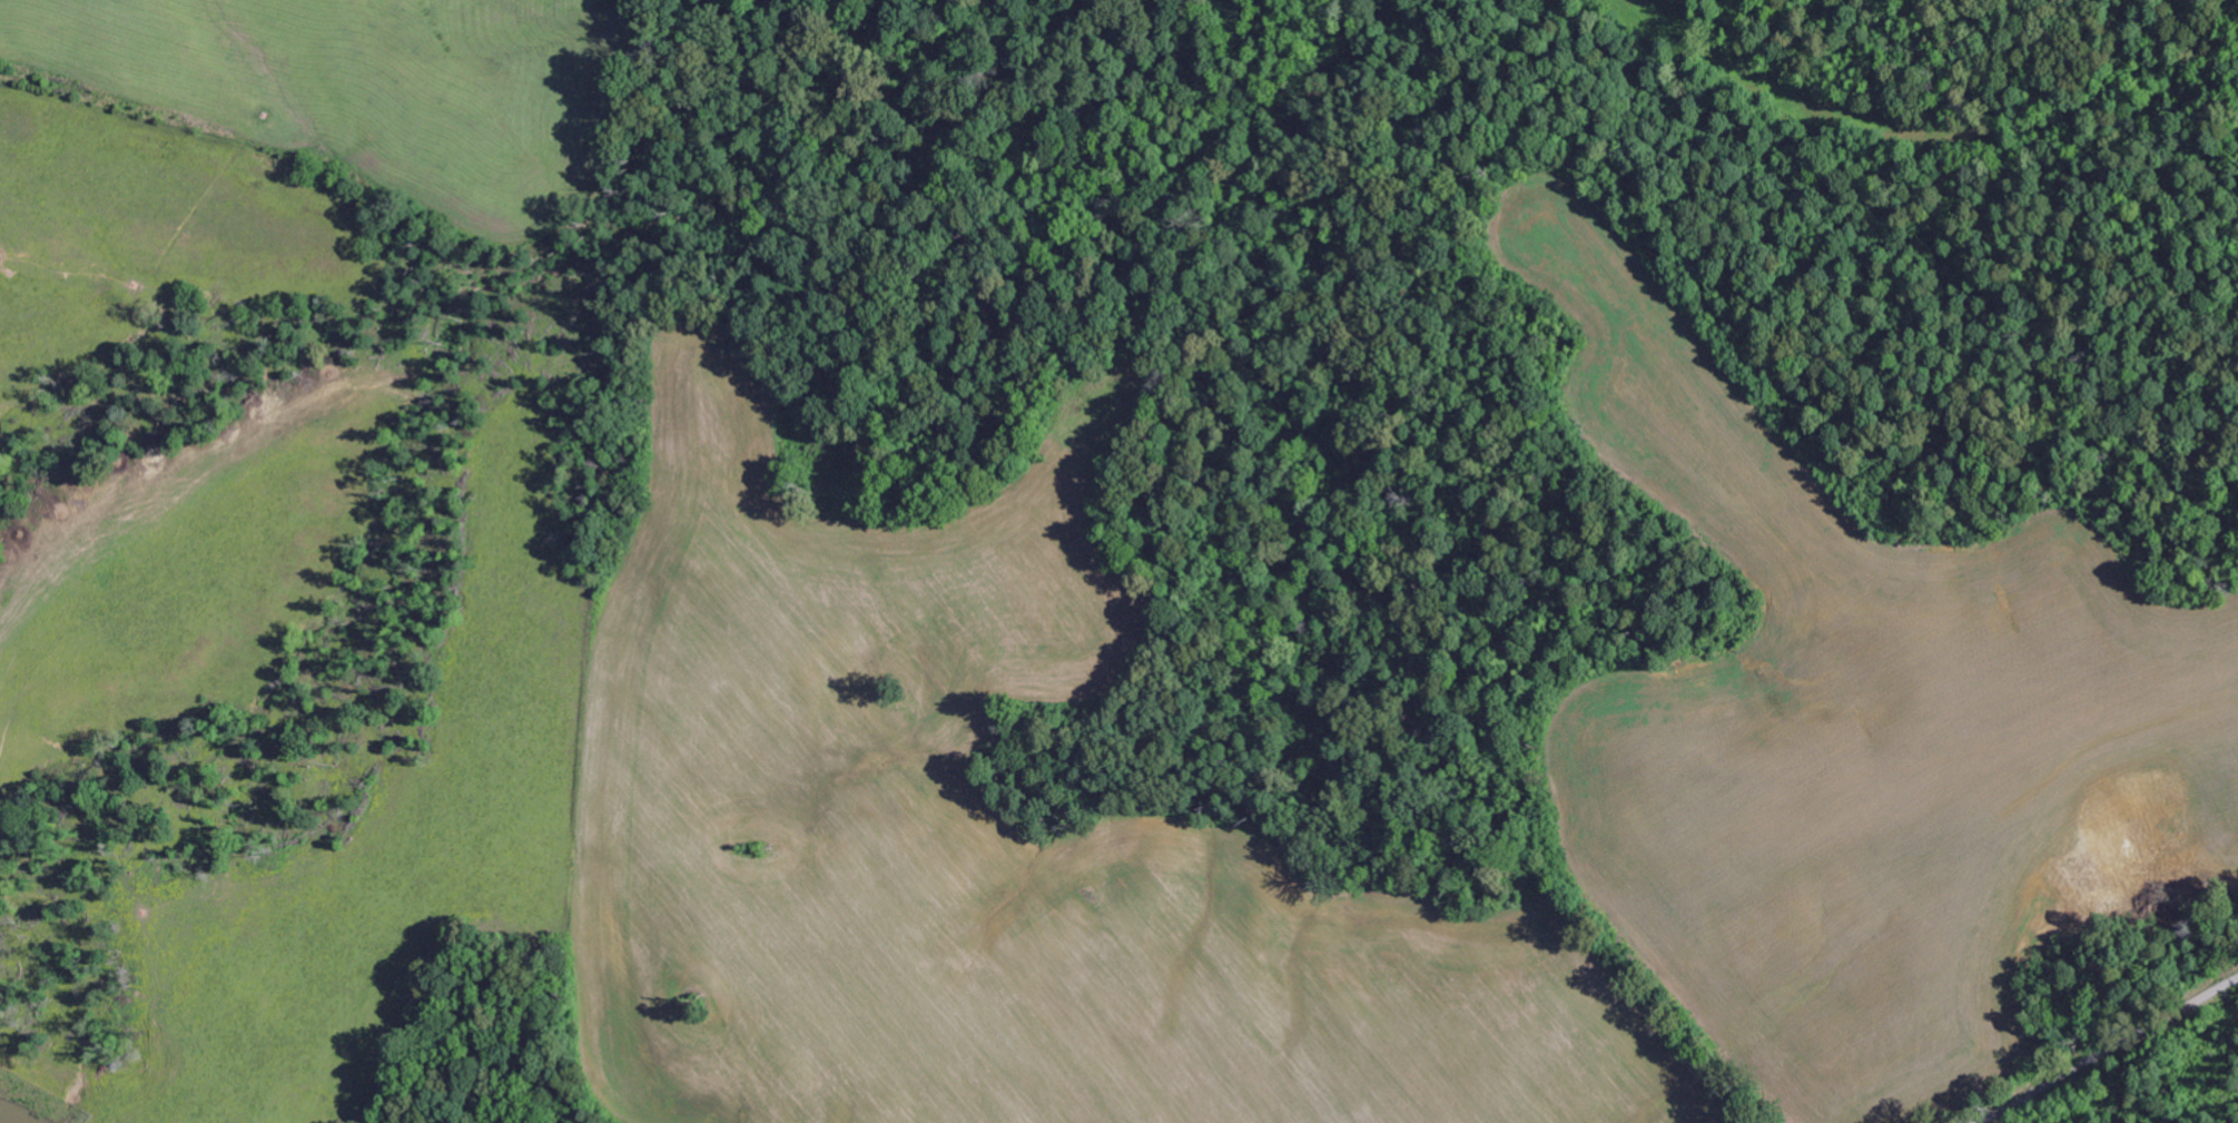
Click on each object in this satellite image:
road: (2109, 1052)

